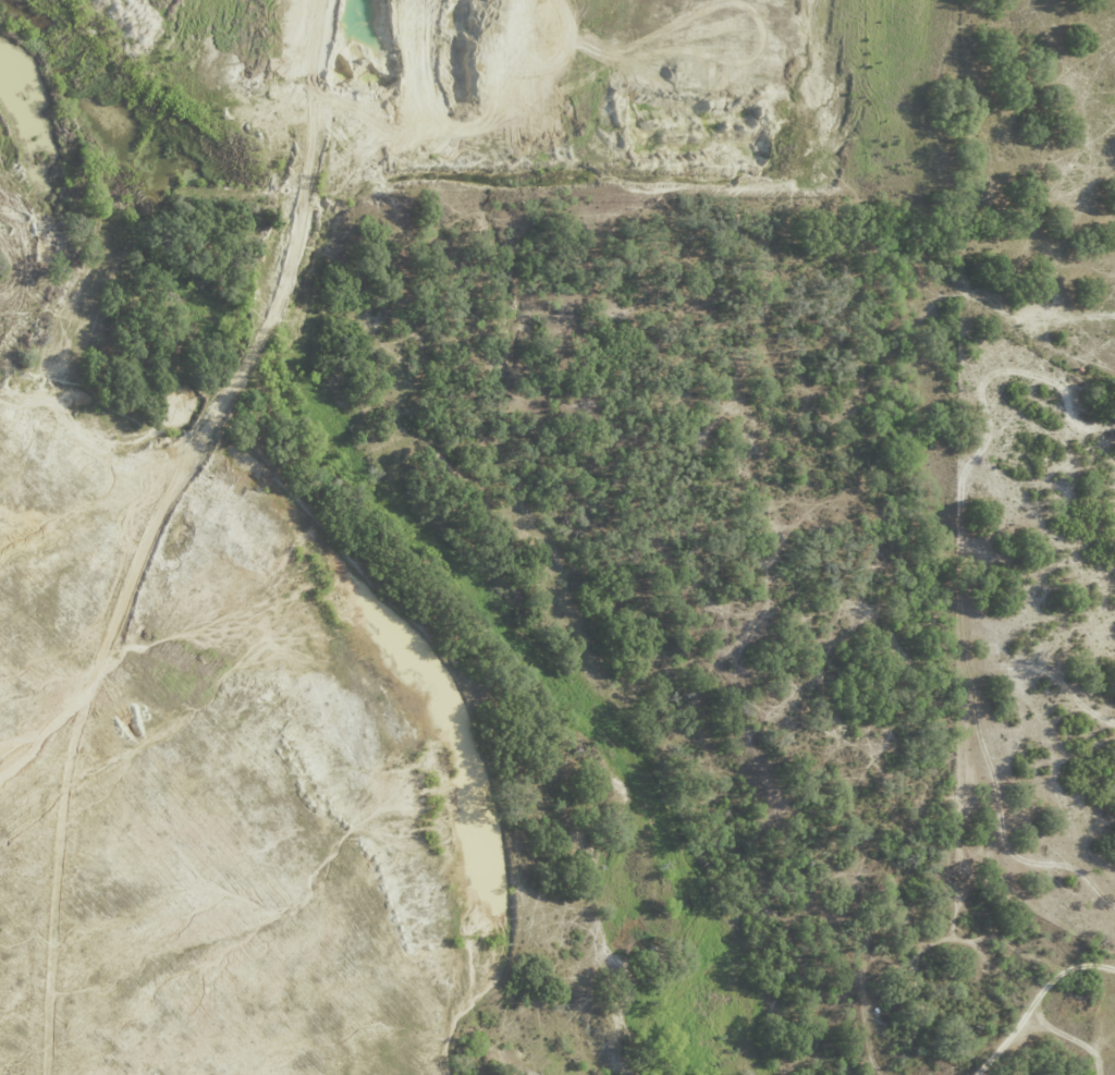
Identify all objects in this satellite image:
road: (1037, 999)

